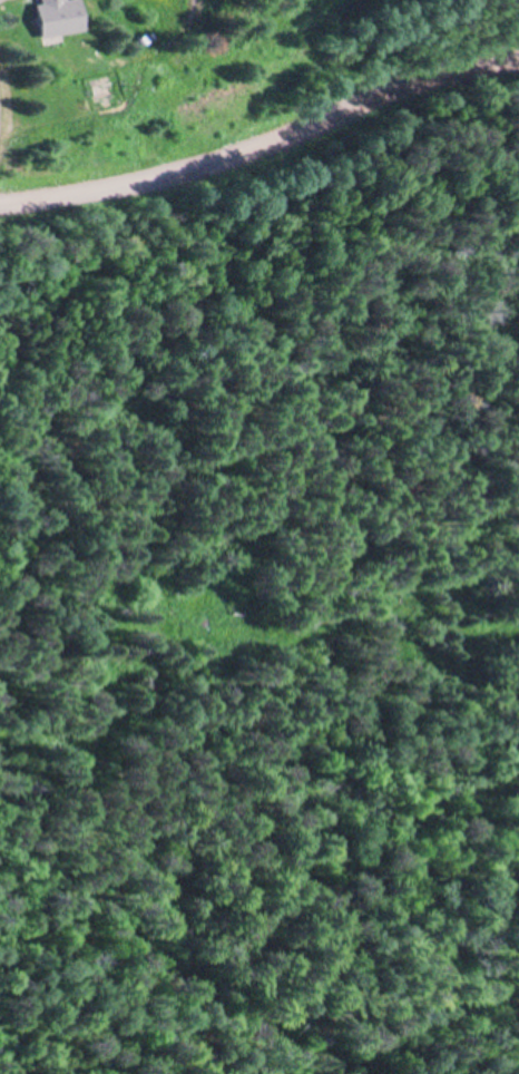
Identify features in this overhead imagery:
building: (59, 18)
road: (263, 145)
road: (10, 723)

